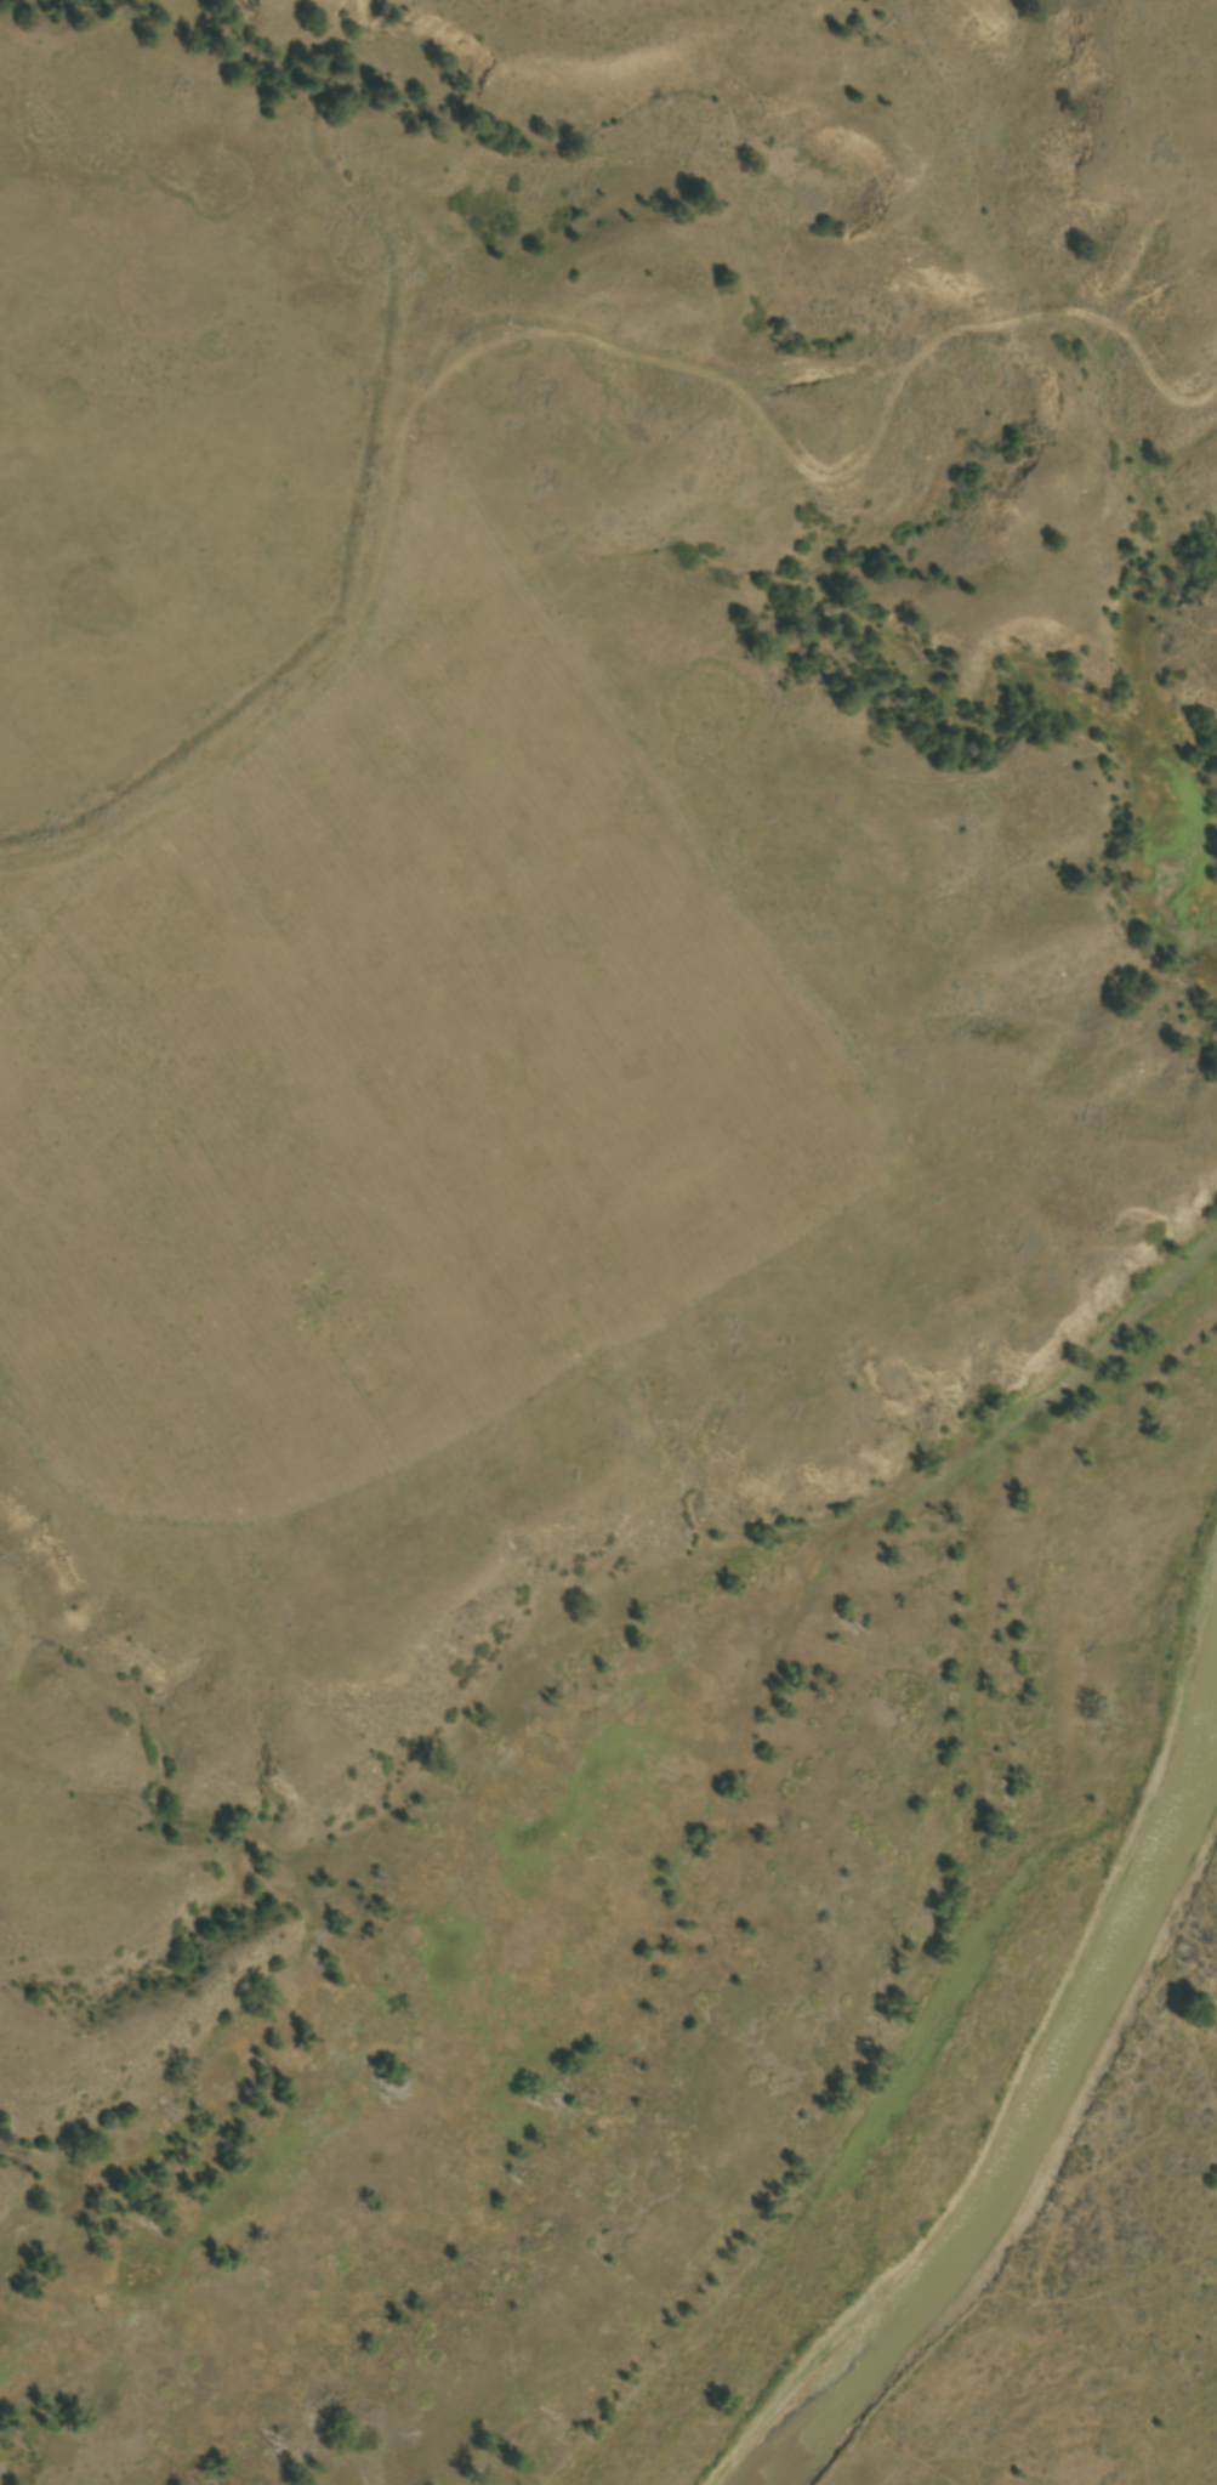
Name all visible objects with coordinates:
park: (682, 1531)
river: (1040, 2117)

